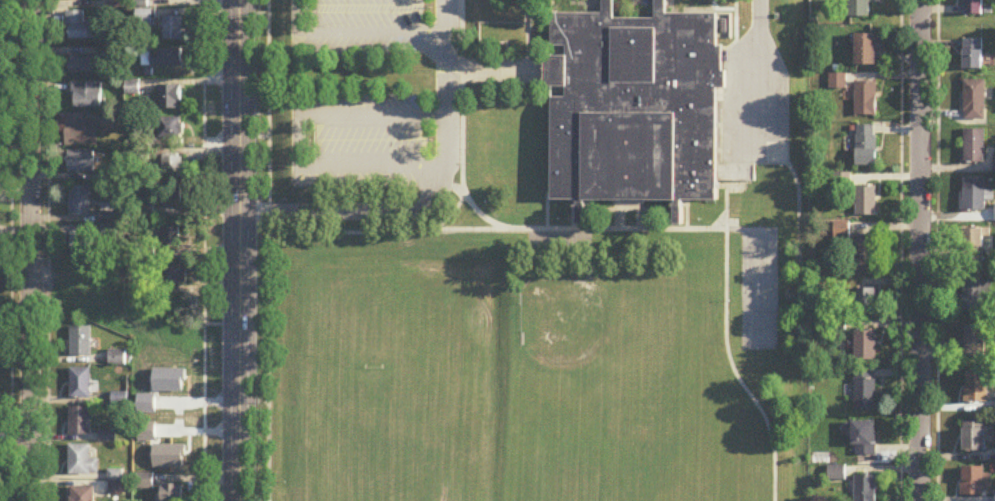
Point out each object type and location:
building: (974, 7)
building: (861, 8)
road: (759, 12)
building: (143, 18)
building: (80, 27)
building: (172, 29)
road: (358, 33)
building: (865, 50)
building: (973, 55)
building: (162, 59)
building: (84, 65)
building: (86, 95)
building: (169, 97)
building: (865, 99)
building: (974, 101)
building: (80, 130)
building: (172, 132)
road: (298, 139)
building: (866, 146)
building: (974, 146)
building: (80, 162)
building: (171, 167)
building: (973, 195)
building: (169, 197)
road: (437, 201)
building: (80, 202)
road: (457, 202)
building: (865, 202)
road: (479, 213)
road: (937, 216)
road: (584, 228)
building: (170, 239)
building: (974, 246)
building: (81, 247)
road: (10, 250)
road: (28, 250)
road: (47, 250)
road: (203, 250)
road: (238, 250)
road: (267, 250)
road: (899, 250)
road: (919, 250)
building: (865, 251)
building: (172, 276)
park: (758, 288)
building: (974, 293)
building: (865, 302)
building: (80, 341)
building: (976, 342)
building: (865, 346)
road: (733, 369)
building: (80, 384)
building: (975, 388)
building: (864, 390)
building: (80, 421)
building: (974, 436)
building: (864, 439)
building: (169, 457)
building: (82, 461)
road: (937, 467)
building: (836, 473)
building: (972, 482)
building: (865, 488)
building: (172, 492)
building: (82, 494)

